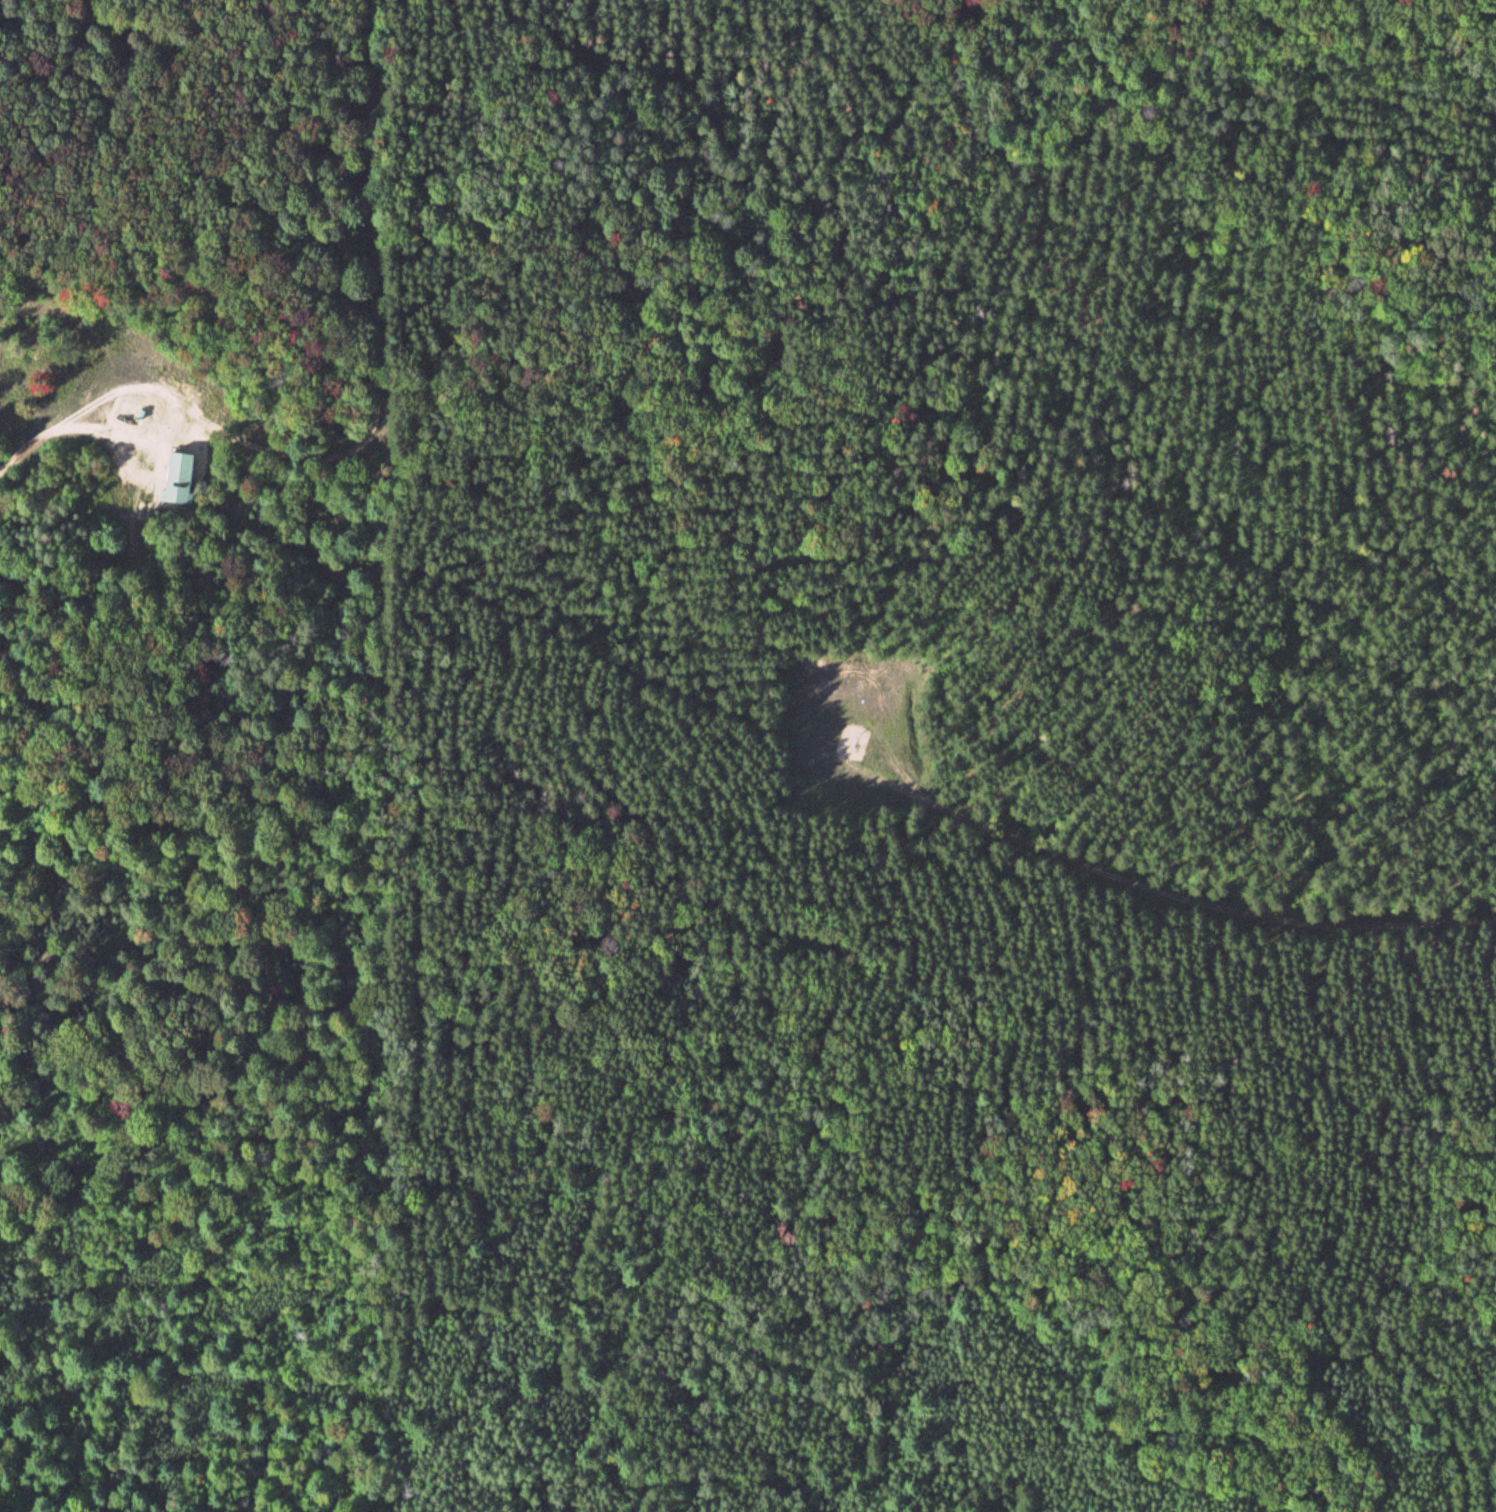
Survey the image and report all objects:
road: (164, 413)
petroleum well: (122, 418)
road: (35, 443)
building: (174, 476)
road: (844, 739)
petroleum well: (855, 746)
road: (1194, 902)

